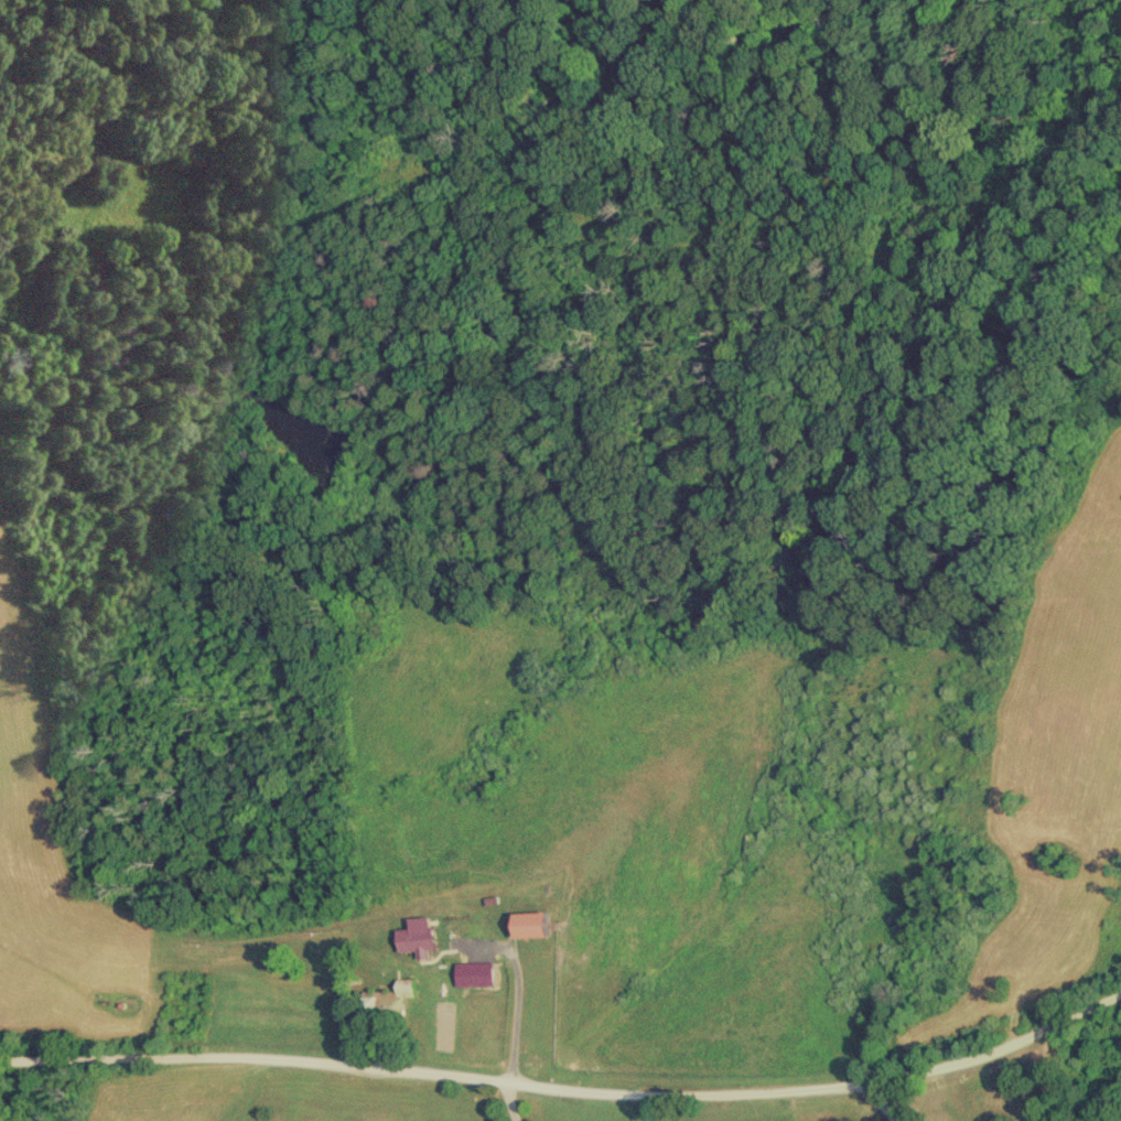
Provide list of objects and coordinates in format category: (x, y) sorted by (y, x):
road: (510, 1000)
road: (568, 1090)
road: (507, 1102)
road: (876, 1102)

